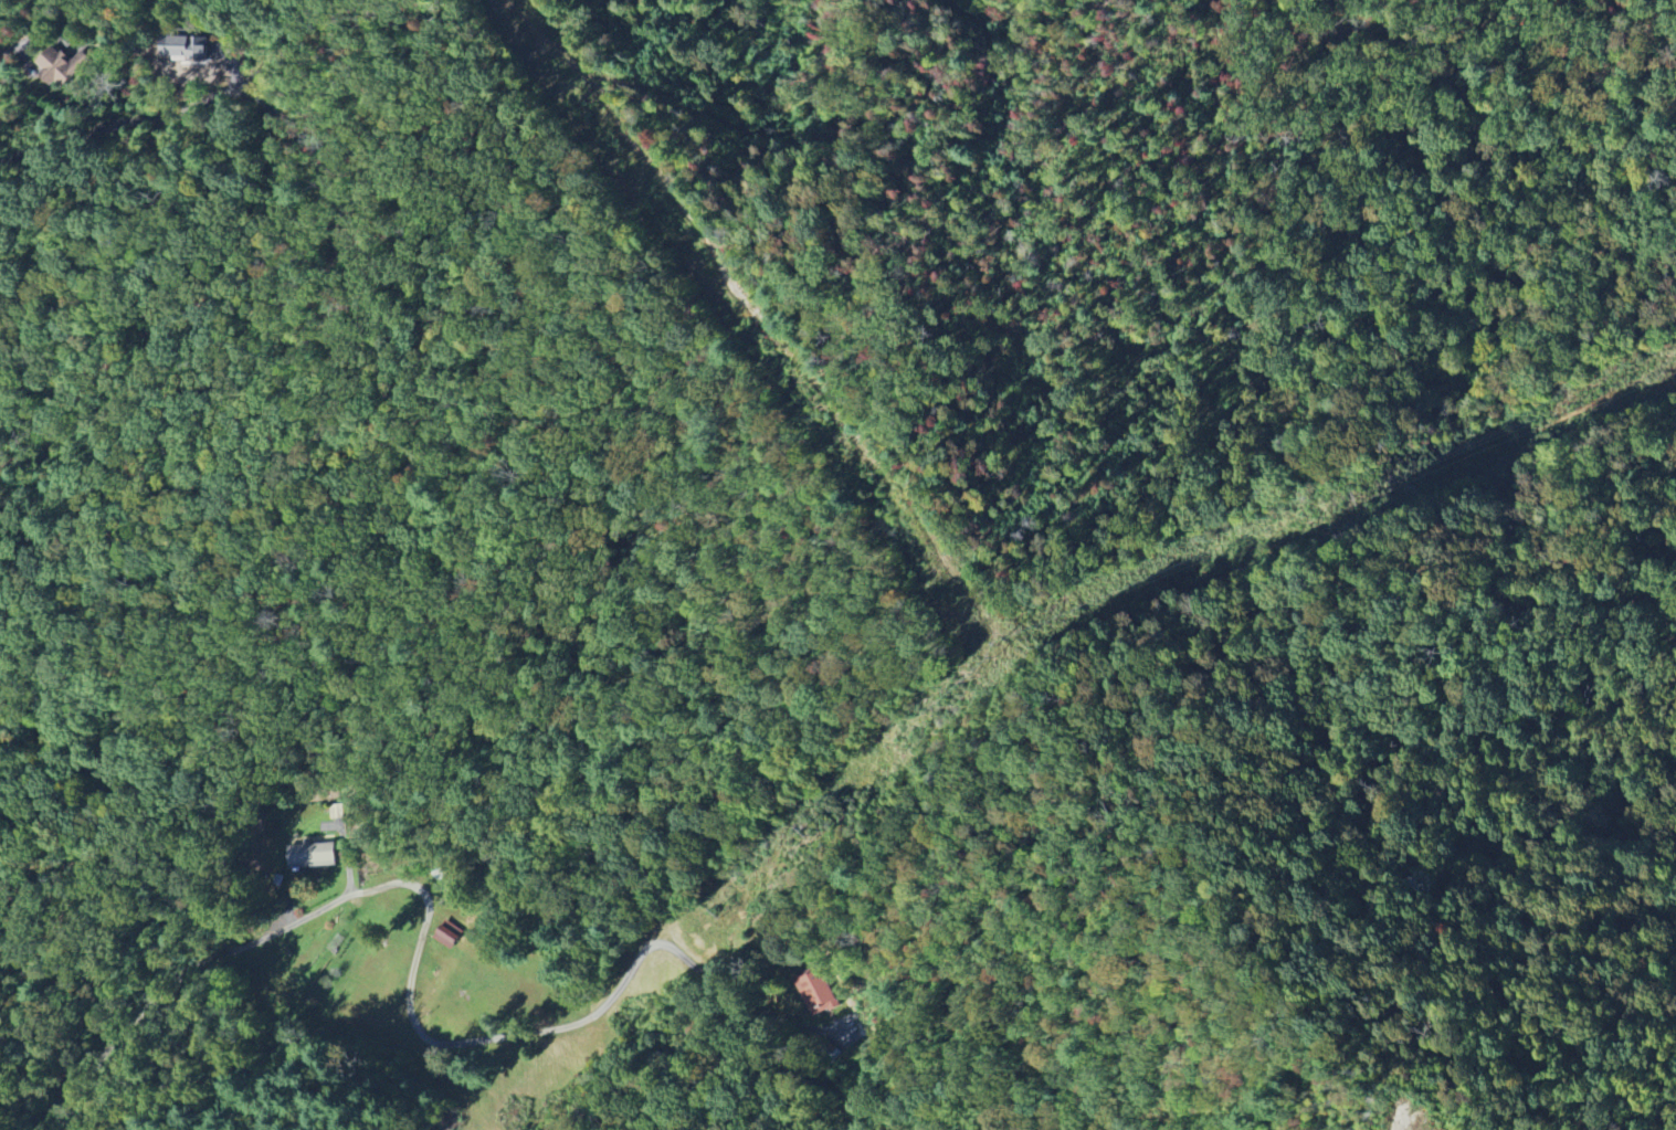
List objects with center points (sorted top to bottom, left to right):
road: (24, 42)
building: (186, 47)
building: (62, 66)
road: (120, 115)
power tower: (1002, 650)
building: (312, 853)
road: (410, 972)
building: (819, 994)
power tower: (529, 1092)
road: (1406, 1128)

